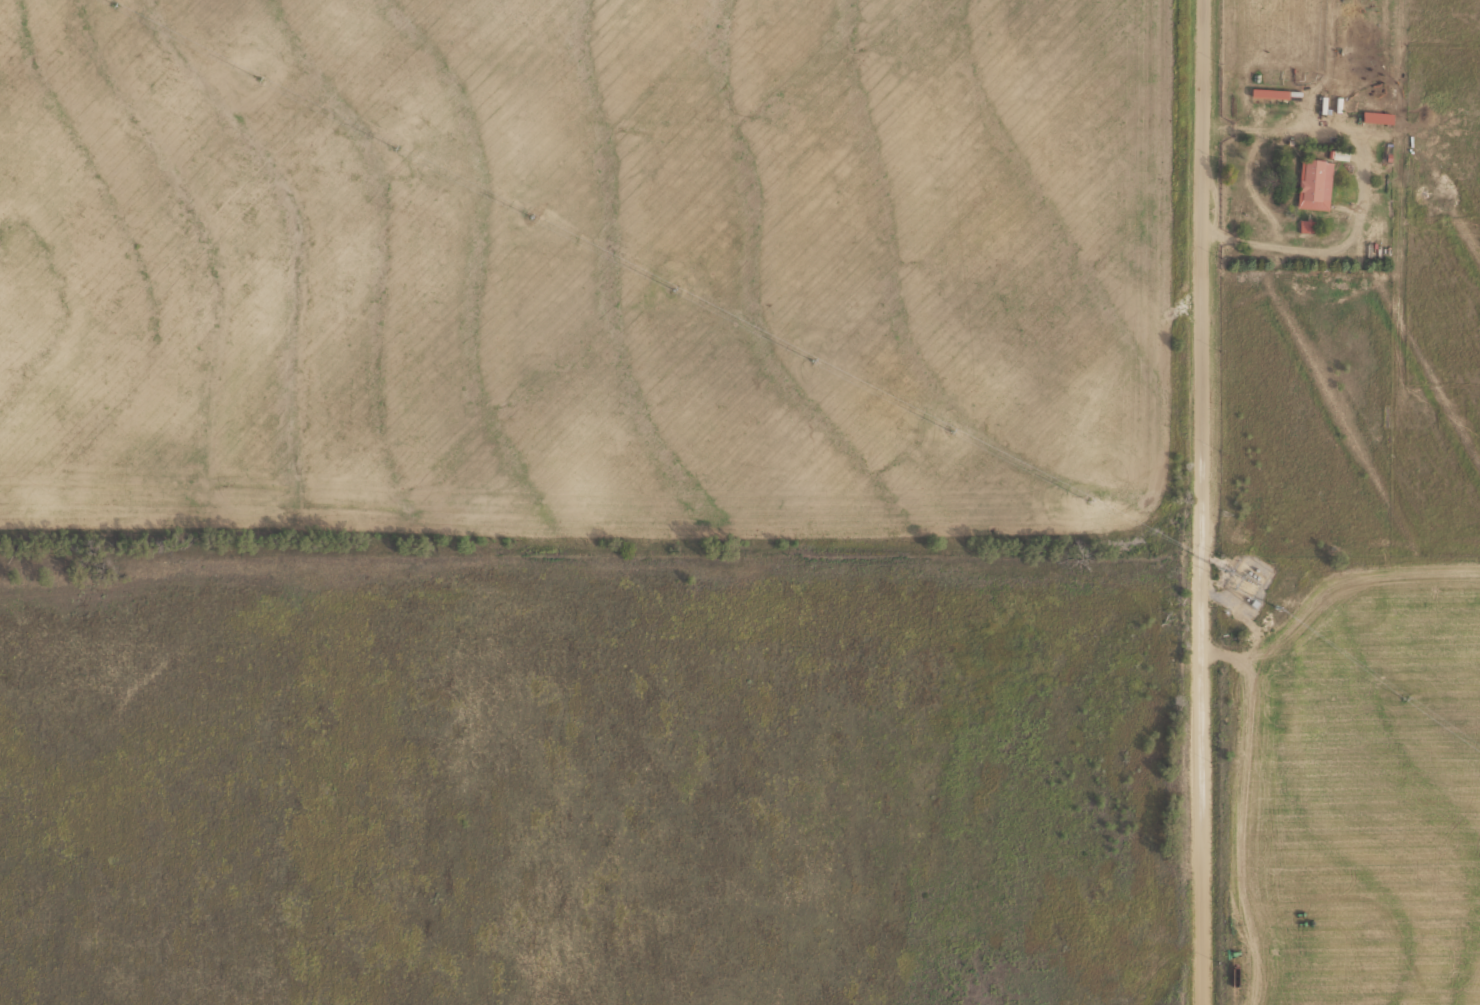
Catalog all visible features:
building: (1315, 179)
road: (1204, 502)
power substation: (1246, 578)

